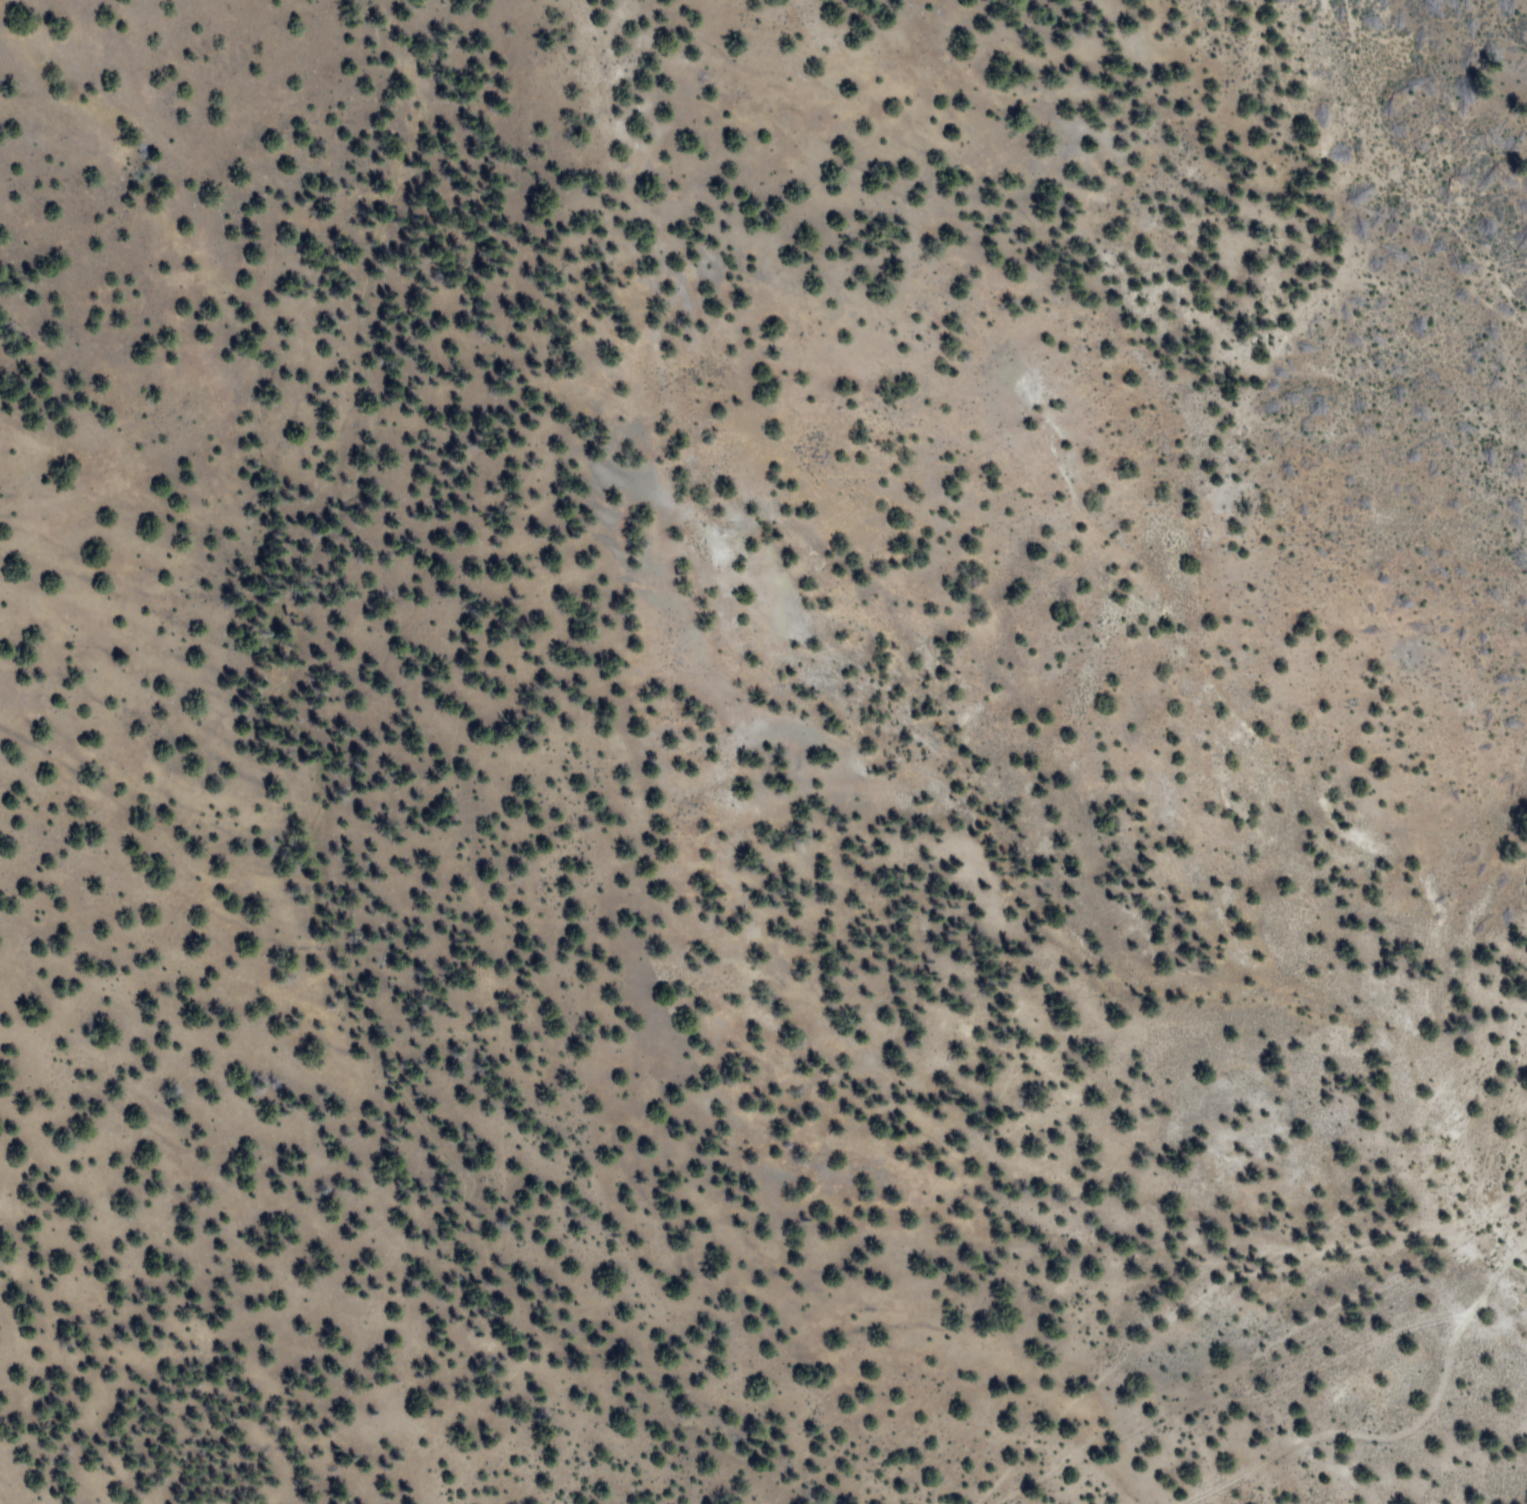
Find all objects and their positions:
road: (1412, 1428)

